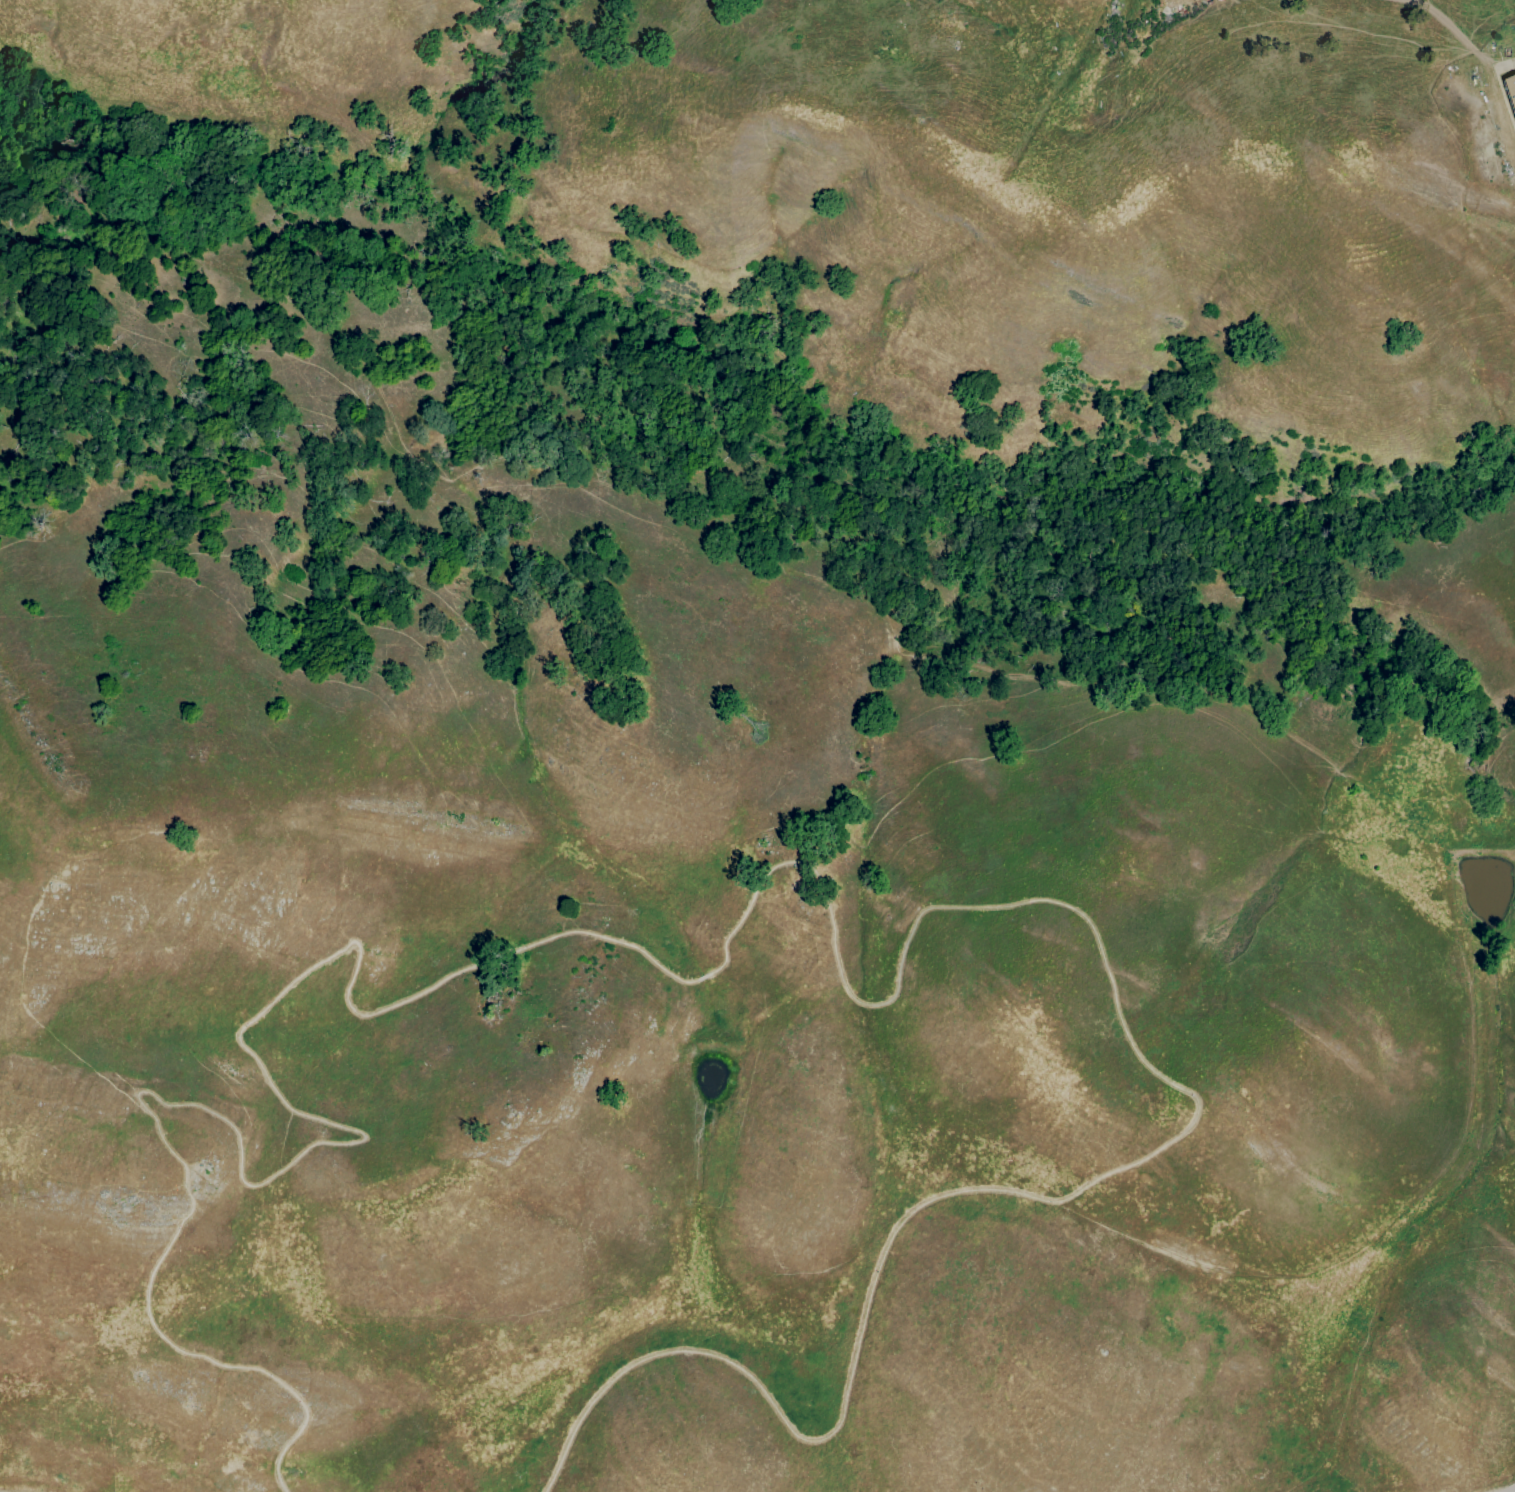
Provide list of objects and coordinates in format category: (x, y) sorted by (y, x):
road: (1507, 66)
building: (1510, 91)
road: (892, 645)
road: (986, 896)
road: (696, 965)
road: (293, 1151)
road: (1399, 1218)
road: (821, 1437)
road: (1511, 1490)

